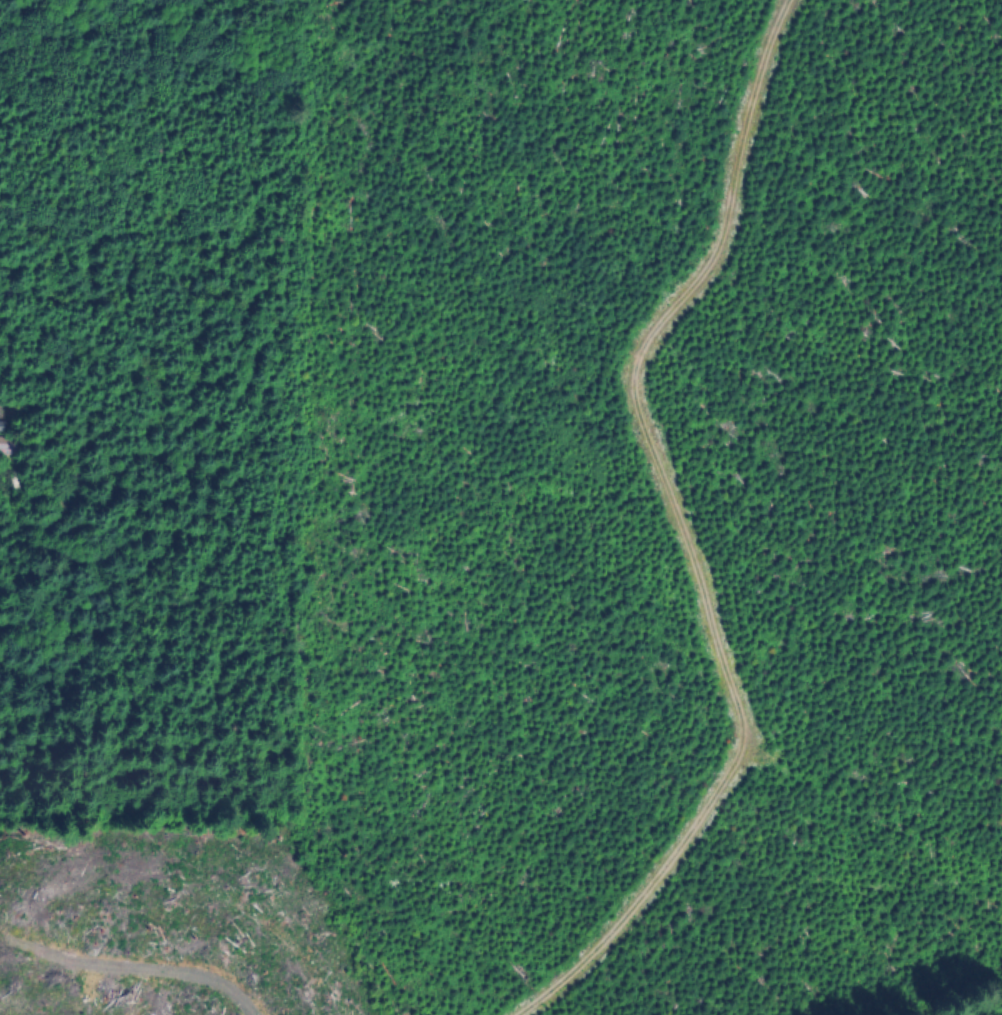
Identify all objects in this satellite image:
road: (939, 126)
building: (3, 425)
building: (9, 447)
road: (678, 529)
road: (169, 964)

